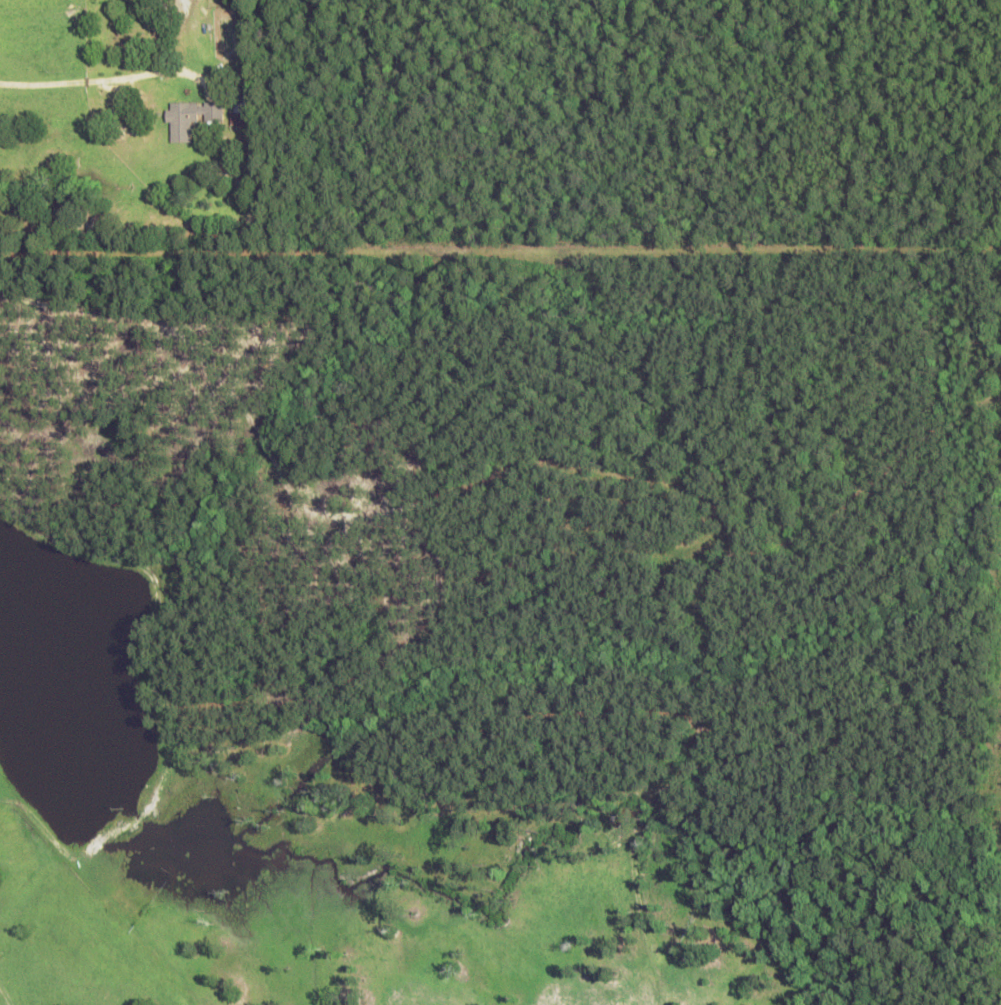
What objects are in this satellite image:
road: (108, 80)
building: (240, 104)
building: (189, 118)

